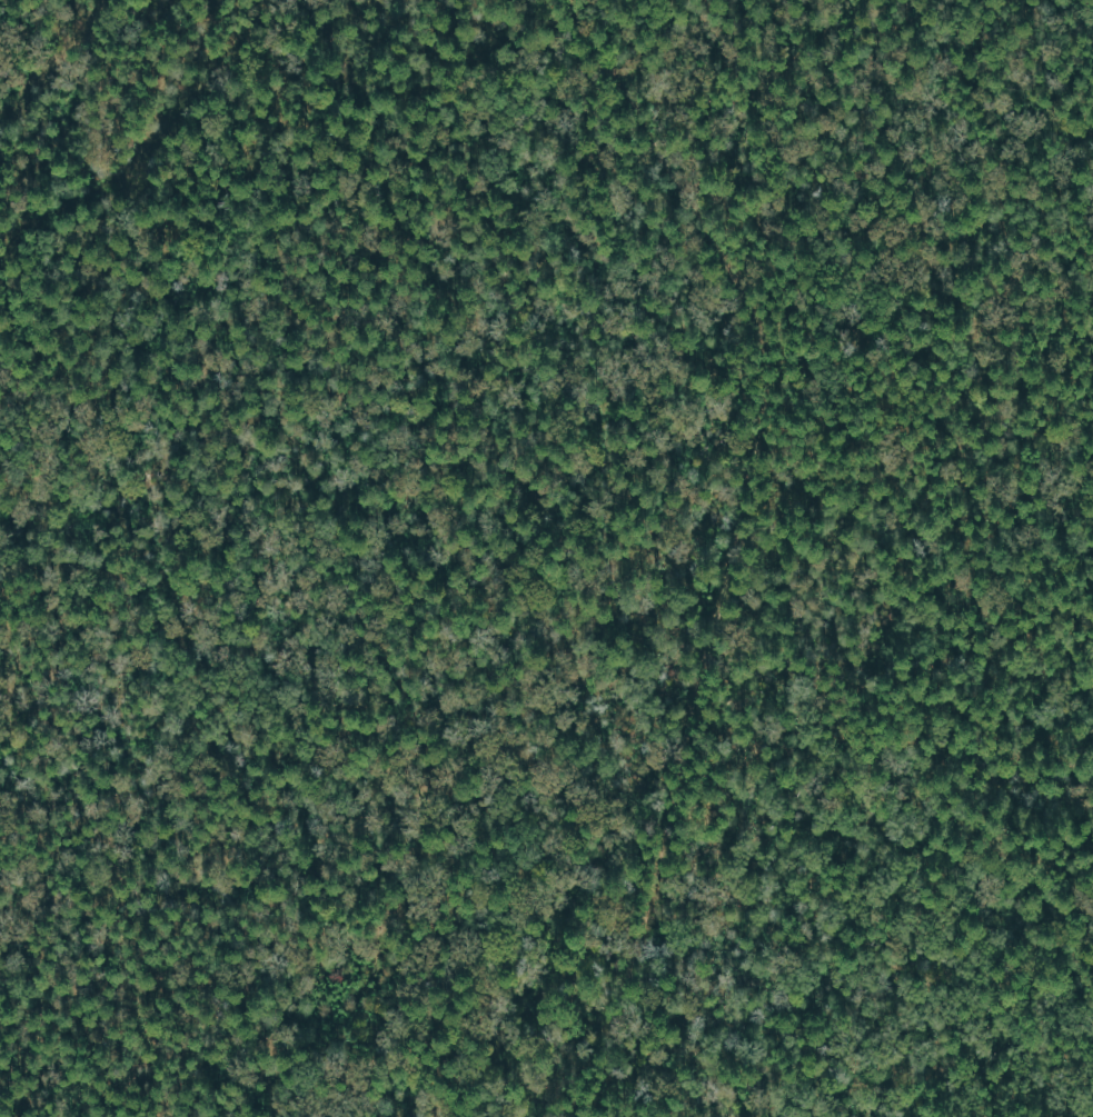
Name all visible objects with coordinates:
road: (728, 541)

